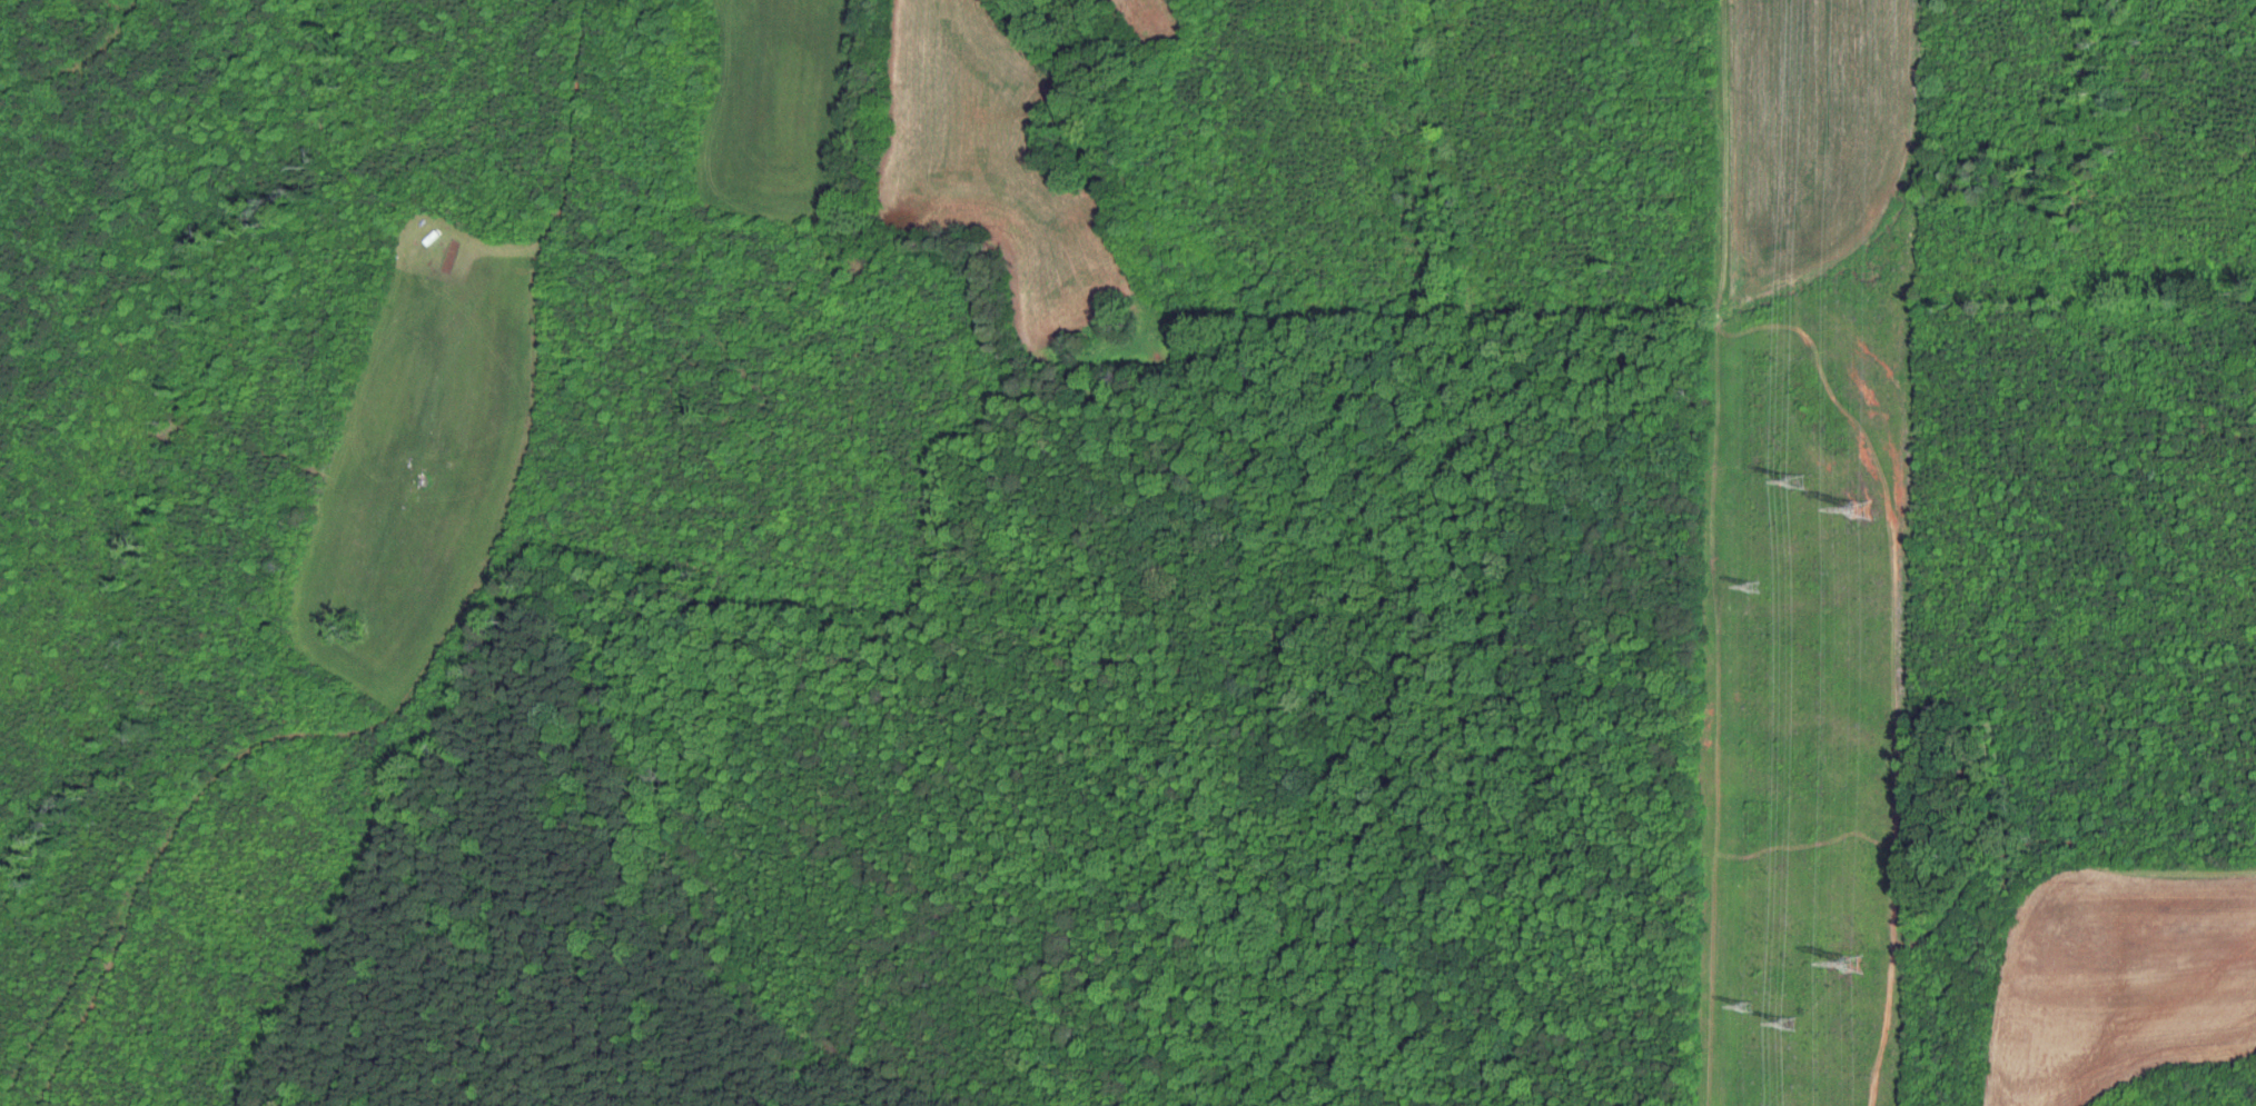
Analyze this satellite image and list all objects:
power tower: (1797, 482)
power tower: (1861, 509)
power tower: (1754, 587)
power tower: (1853, 963)
power tower: (1747, 1005)
power tower: (1789, 1026)

